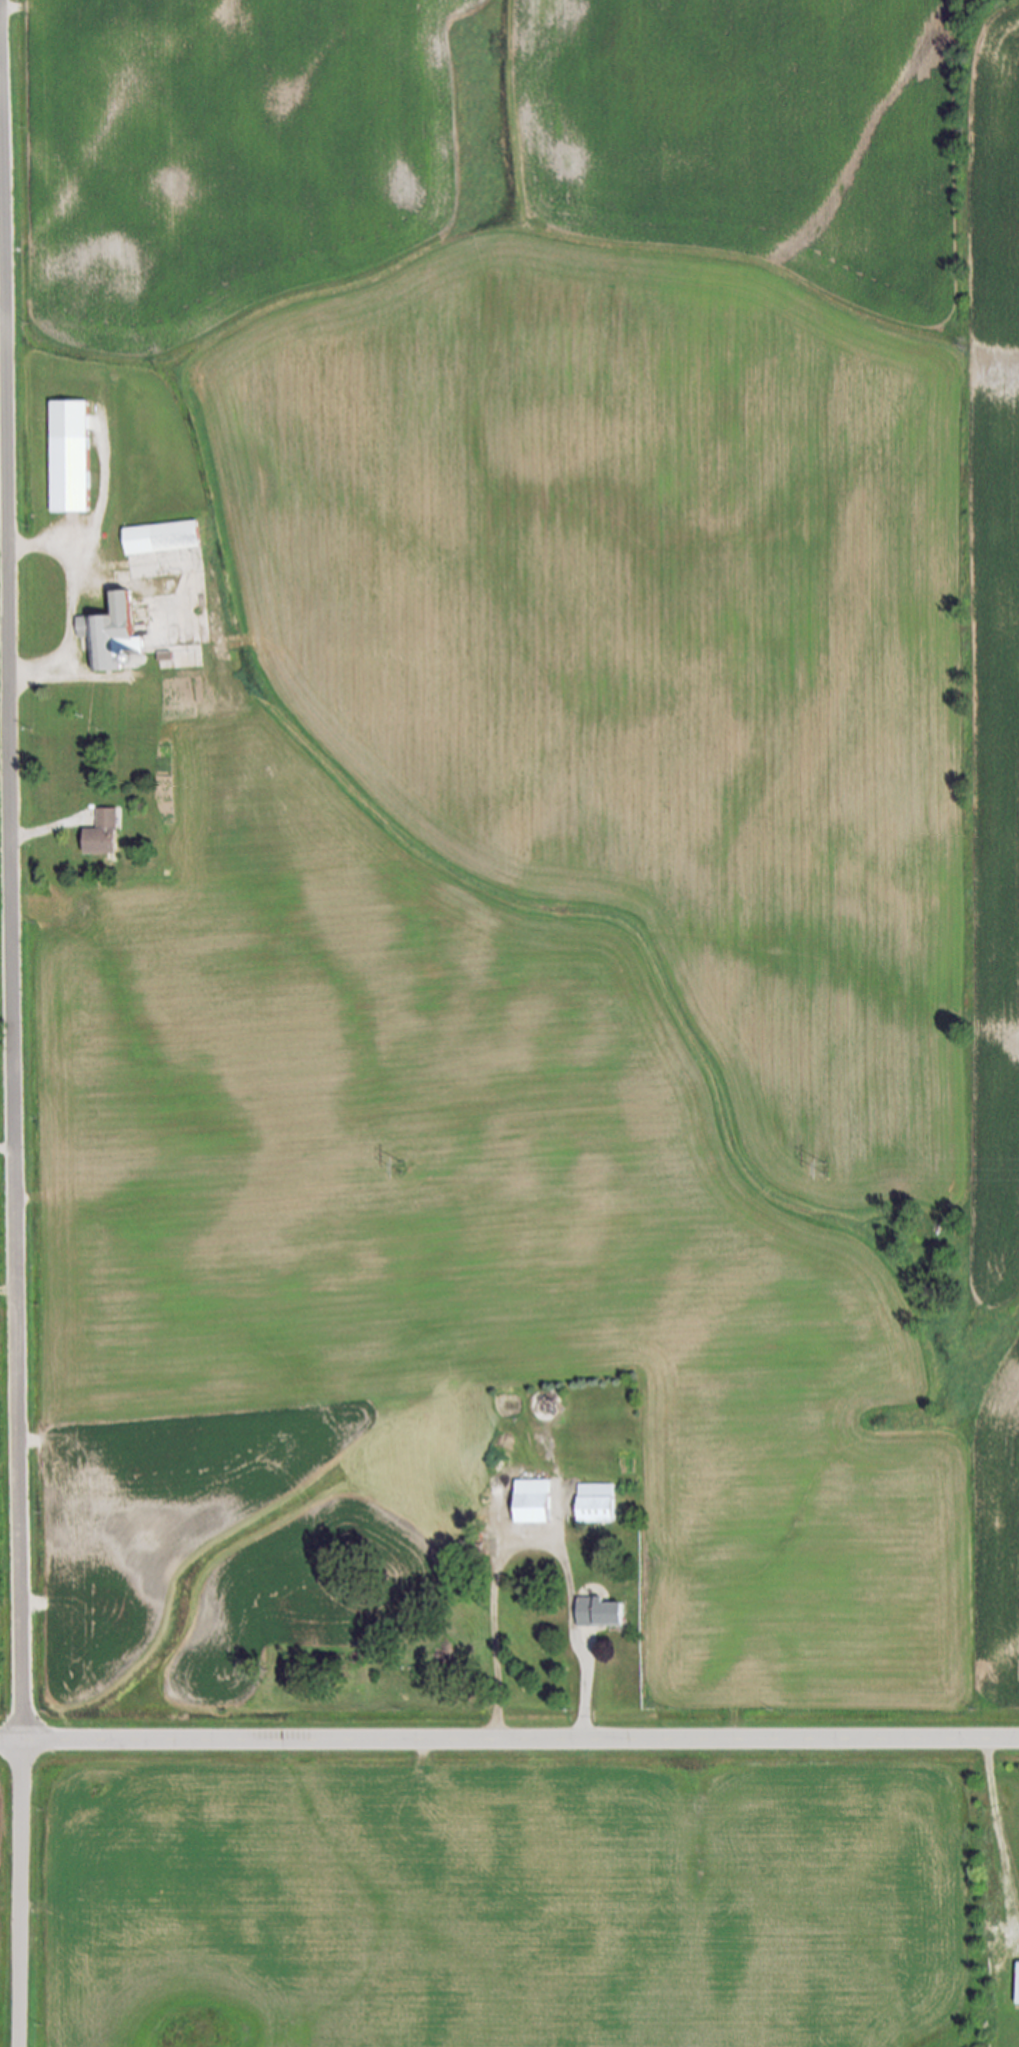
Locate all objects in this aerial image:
building: (67, 457)
building: (159, 538)
building: (144, 565)
road: (71, 609)
building: (108, 636)
building: (65, 775)
crop: (551, 823)
road: (40, 832)
building: (99, 835)
road: (12, 1105)
crop: (2, 1167)
power tower: (408, 1168)
power tower: (823, 1173)
building: (529, 1503)
building: (594, 1505)
road: (531, 1548)
building: (596, 1614)
crop: (3, 1618)
road: (509, 1741)
road: (985, 1768)
crop: (499, 1898)
crop: (4, 1905)
building: (1017, 1984)

